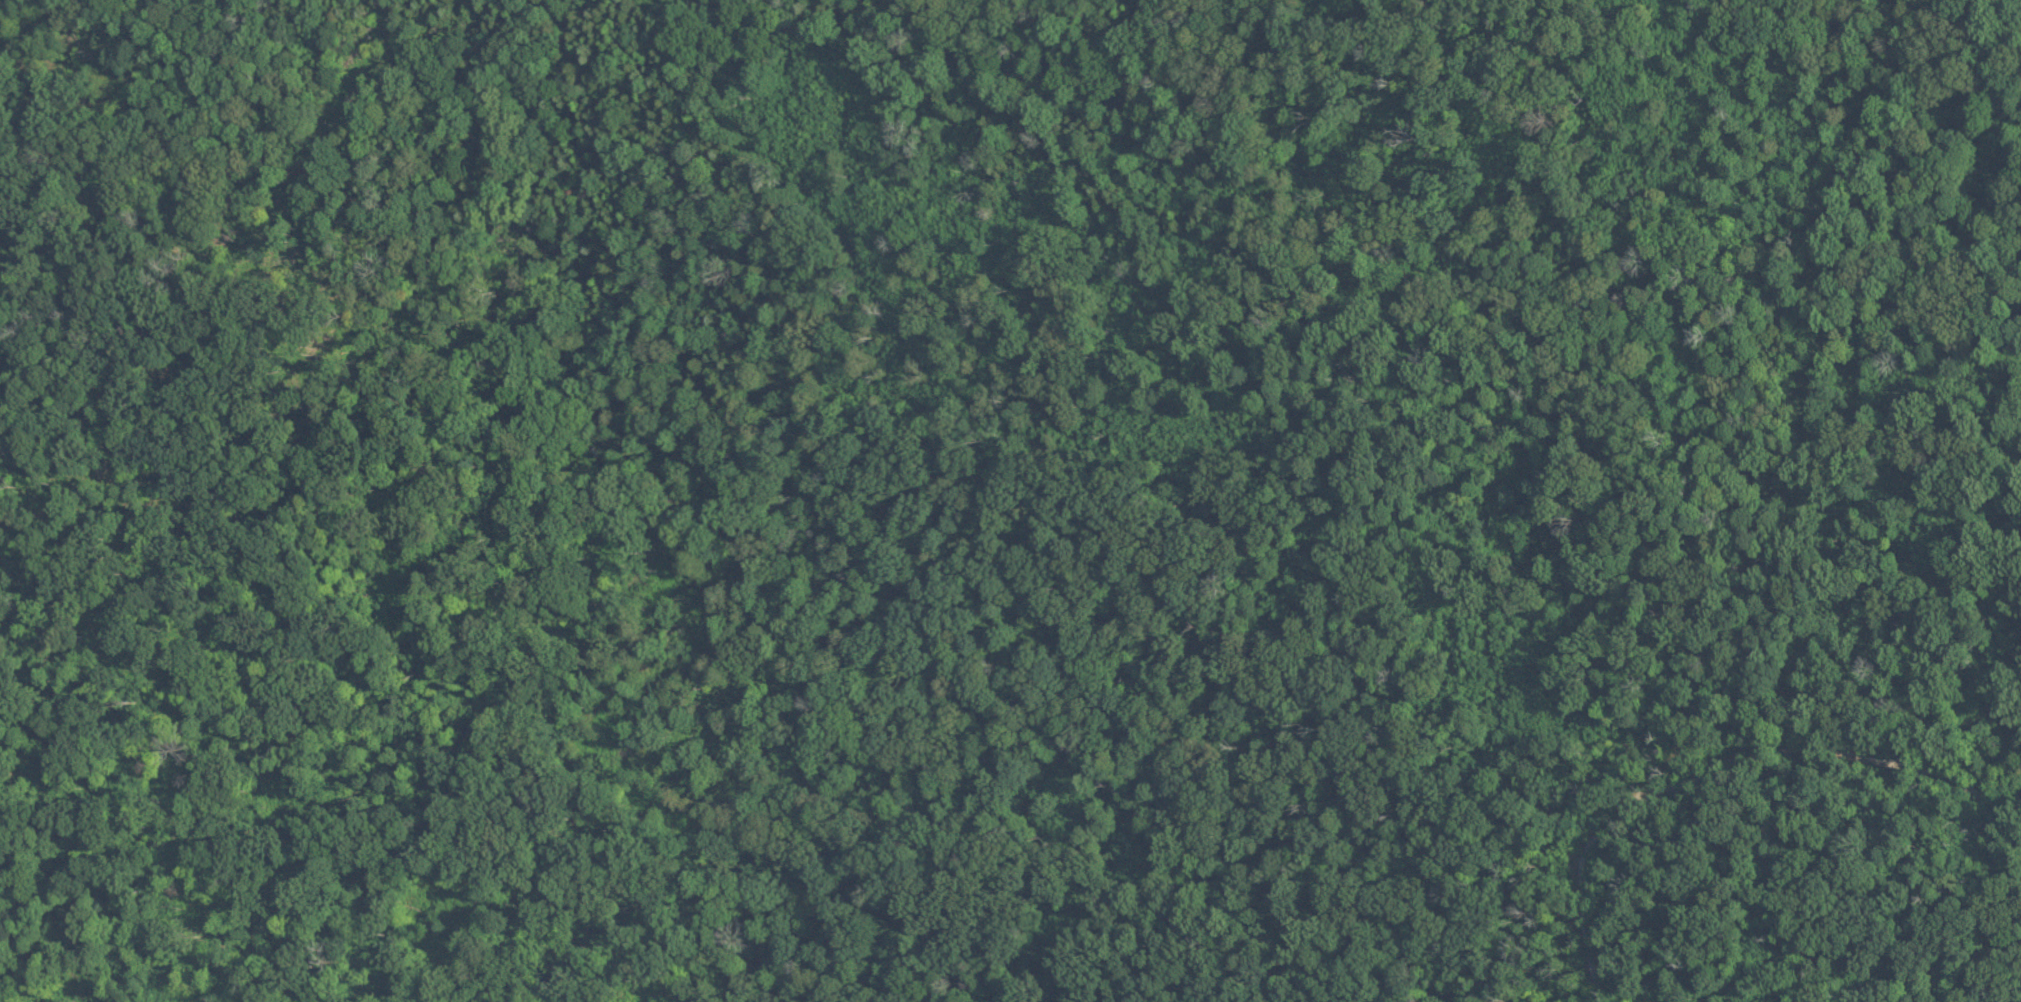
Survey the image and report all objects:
road: (40, 20)
road: (32, 903)

